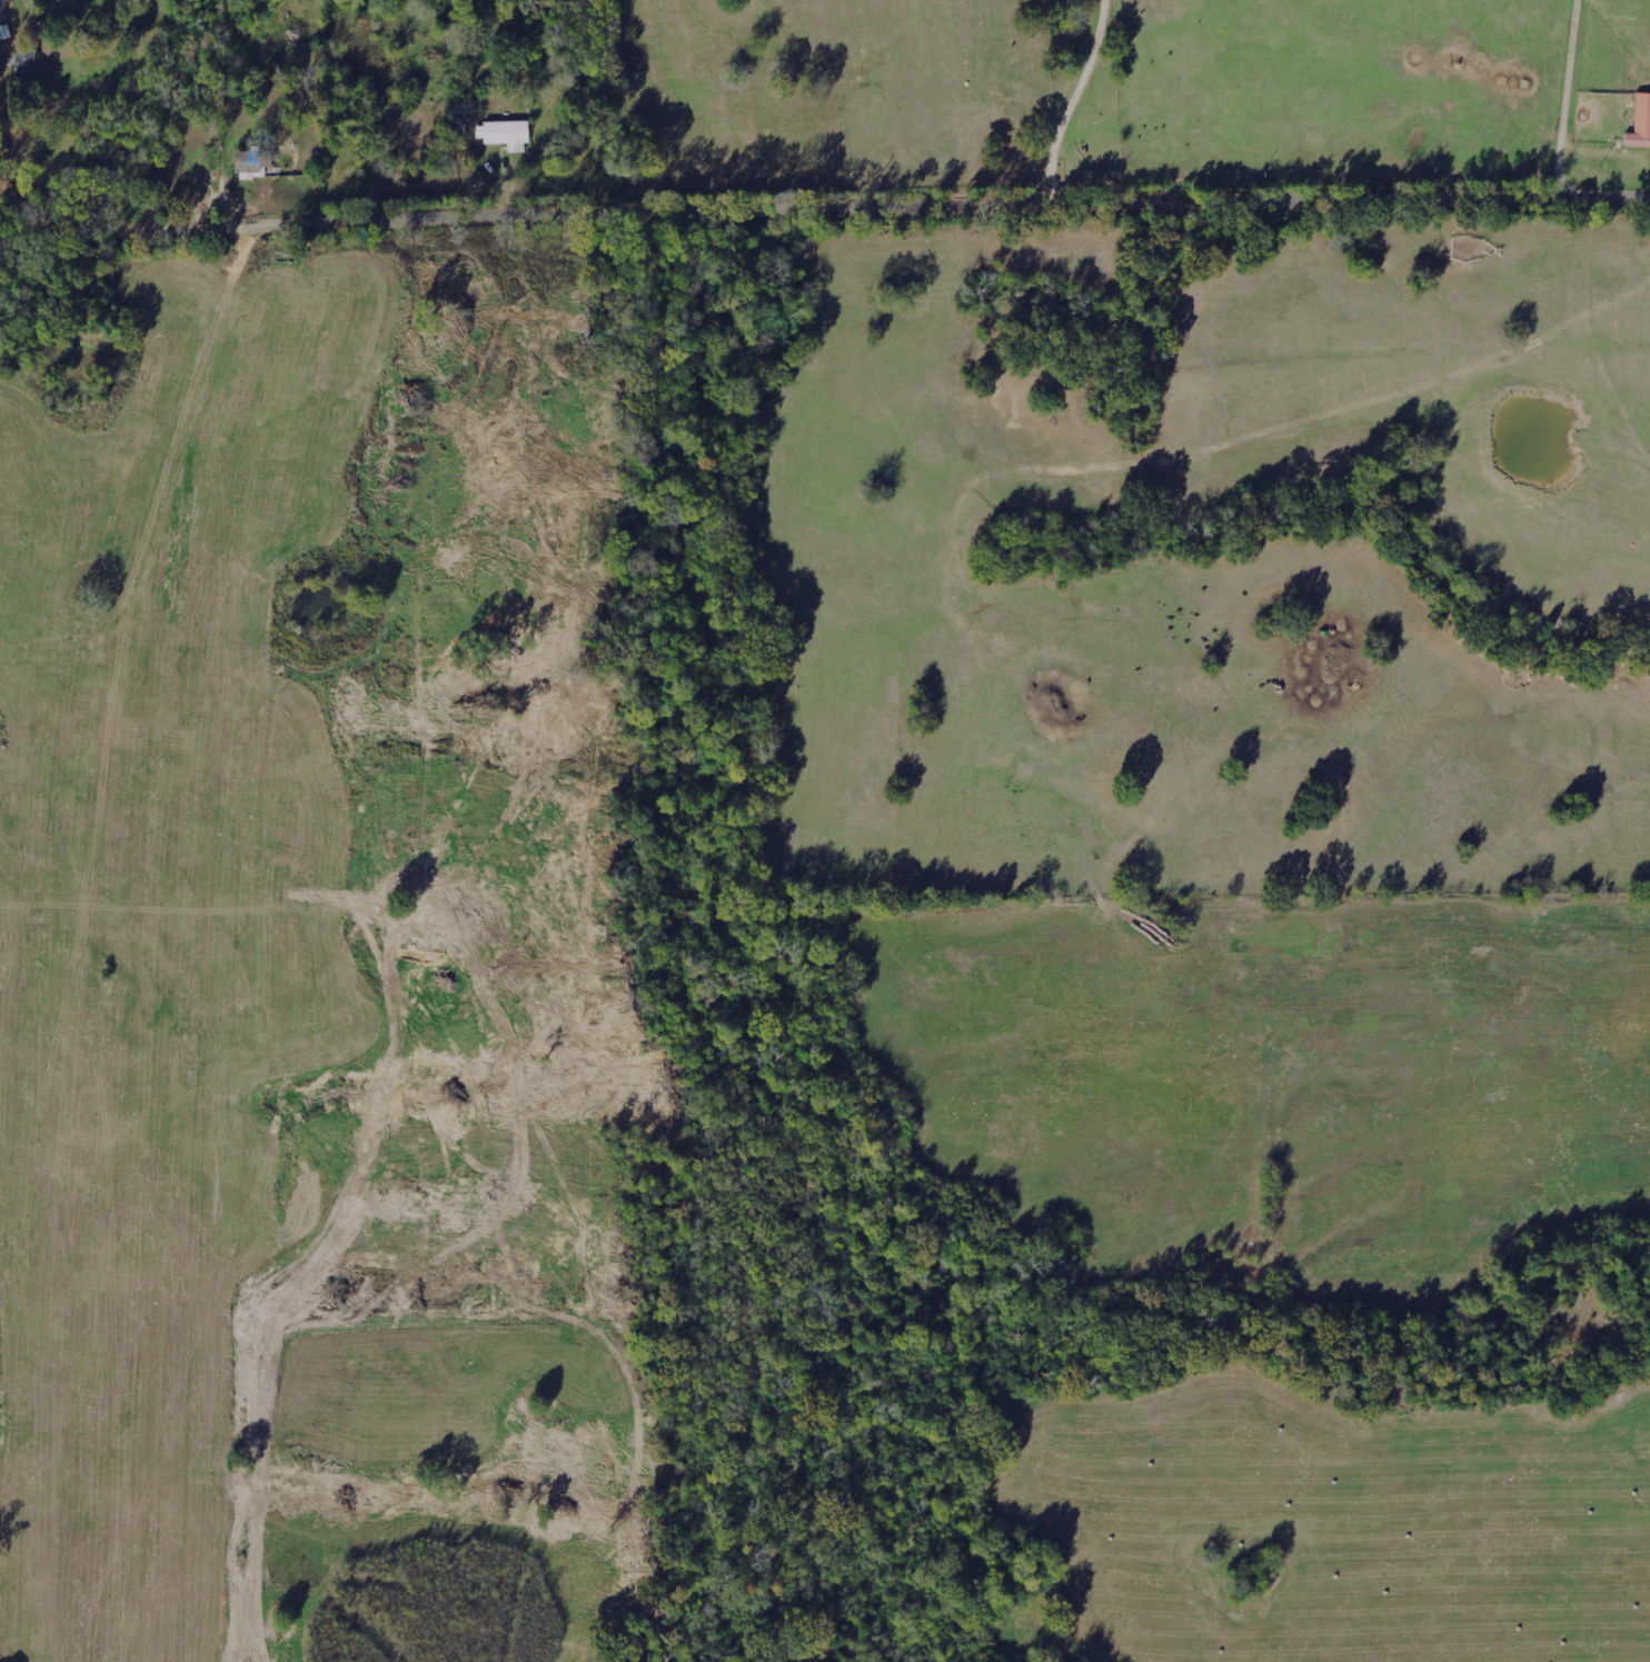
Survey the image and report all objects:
building: (24, 64)
road: (1372, 101)
road: (1028, 102)
building: (1640, 123)
building: (505, 135)
building: (251, 163)
road: (817, 210)

